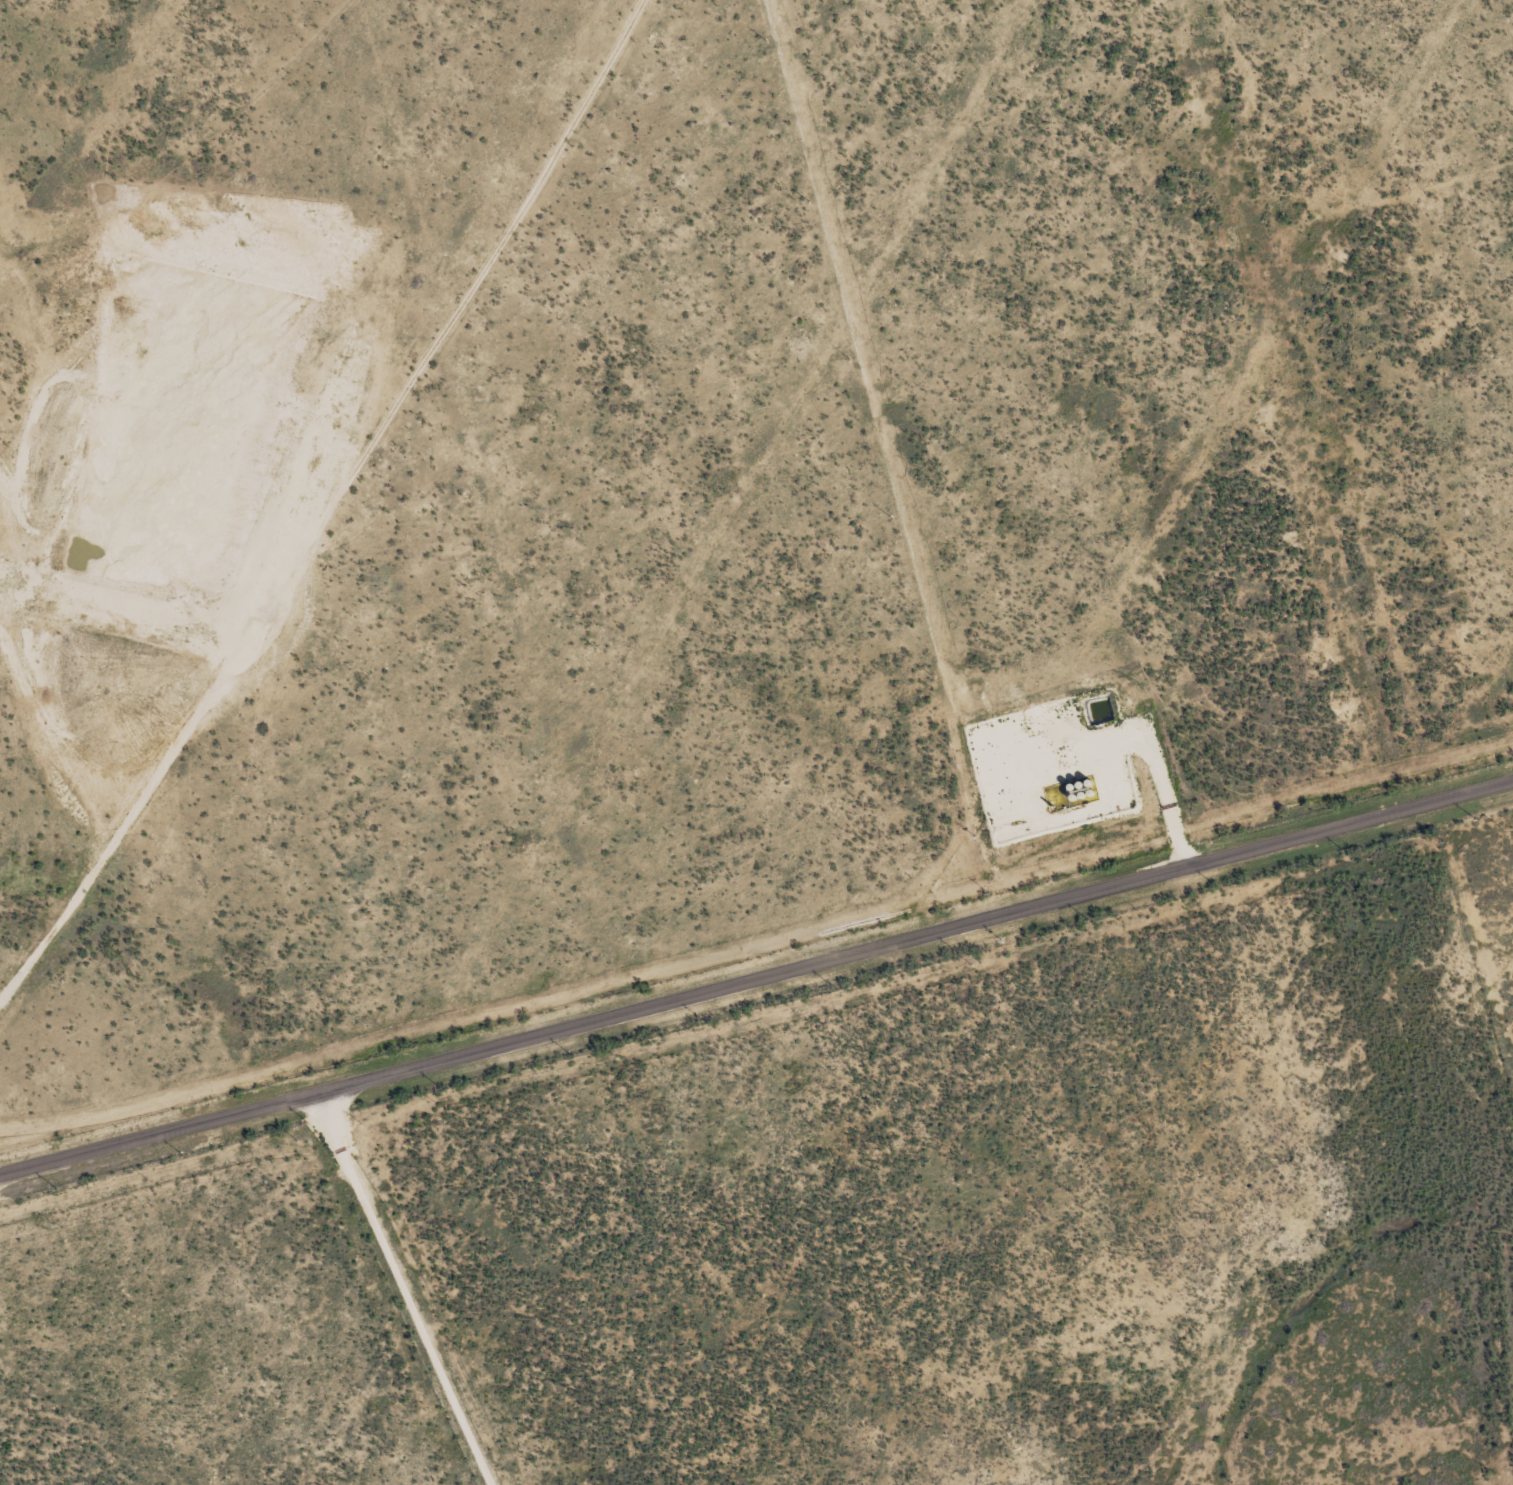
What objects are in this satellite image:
road: (211, 161)
road: (327, 506)
road: (756, 975)
road: (407, 1288)

